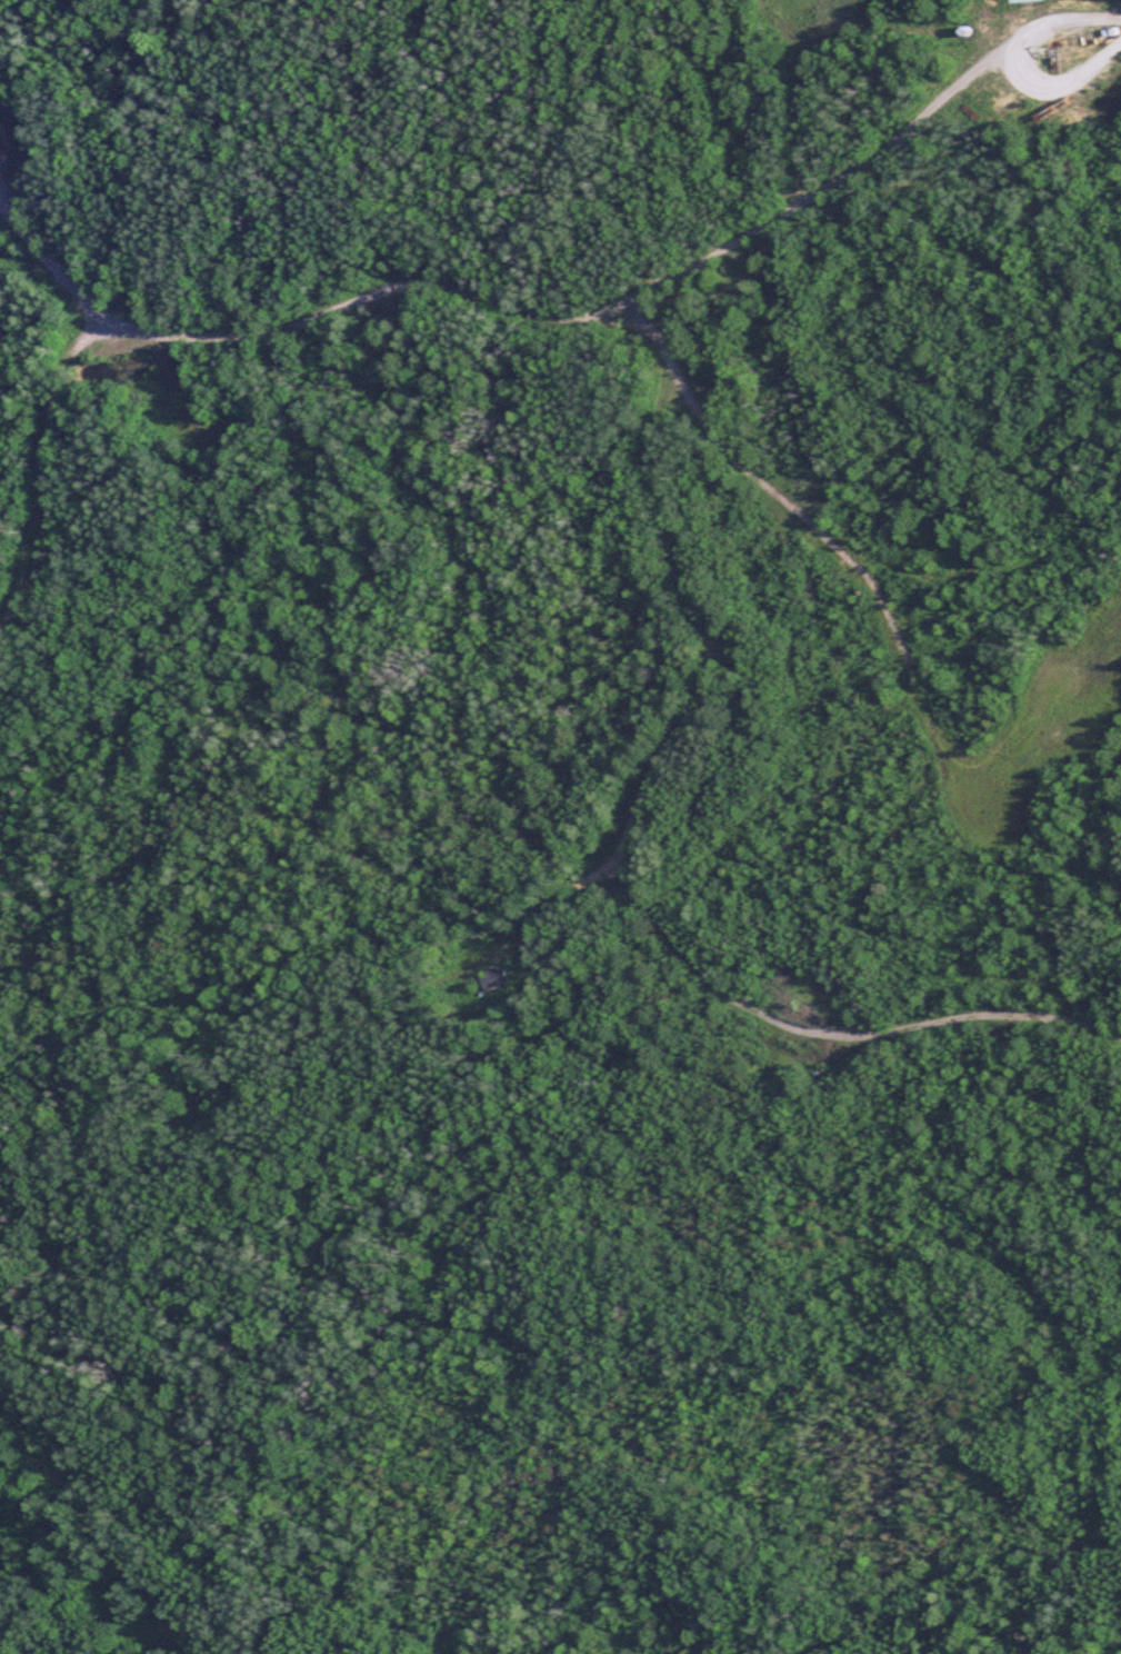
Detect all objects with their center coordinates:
petroleum well: (1054, 52)
road: (578, 321)
road: (42, 457)
road: (632, 829)

